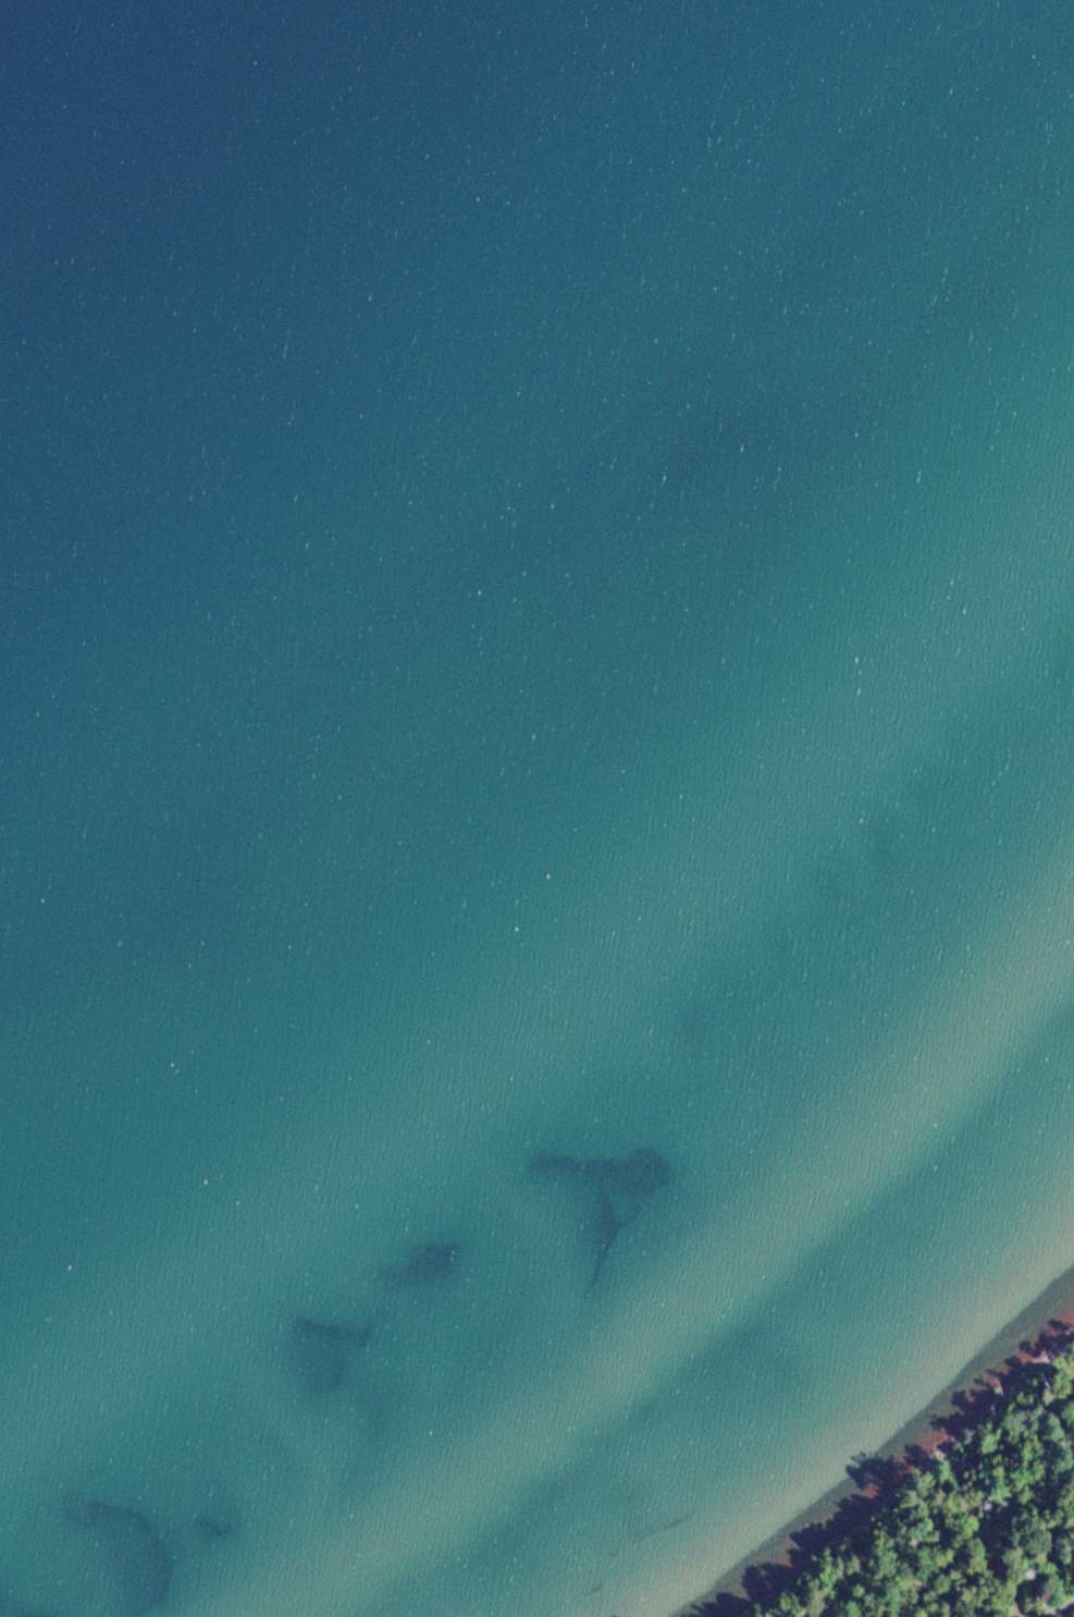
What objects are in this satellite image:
road: (1061, 1608)

